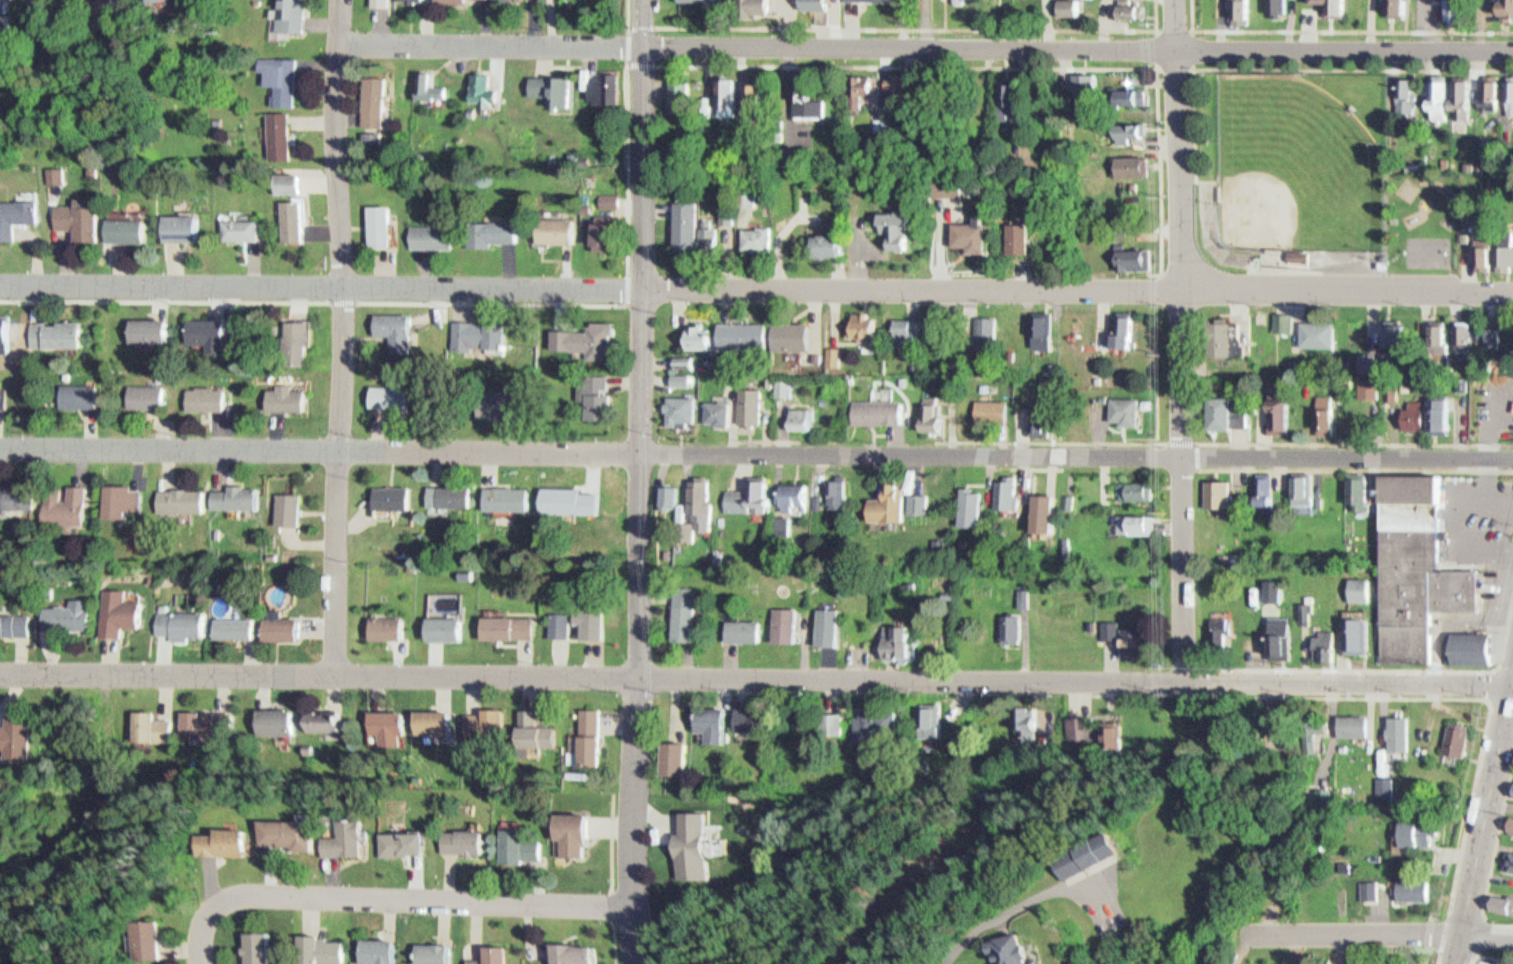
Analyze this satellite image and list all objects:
building: (145, 0)
building: (417, 0)
building: (508, 0)
building: (698, 0)
building: (875, 0)
building: (156, 1)
building: (377, 1)
building: (811, 1)
building: (965, 1)
building: (388, 2)
building: (748, 2)
building: (1274, 3)
building: (1063, 5)
building: (1126, 5)
building: (1342, 6)
building: (1400, 6)
building: (1074, 8)
building: (1509, 8)
building: (1460, 9)
building: (98, 10)
road: (626, 10)
building: (1232, 10)
building: (286, 14)
road: (922, 25)
road: (1340, 30)
building: (49, 44)
road: (927, 45)
road: (628, 60)
road: (1009, 66)
road: (1196, 68)
road: (1298, 69)
building: (278, 75)
building: (895, 79)
building: (1076, 82)
building: (425, 83)
building: (479, 84)
building: (553, 84)
building: (605, 85)
building: (855, 86)
building: (725, 87)
building: (677, 89)
building: (487, 90)
building: (1442, 90)
building: (1465, 90)
building: (1129, 91)
building: (1409, 92)
building: (1491, 92)
building: (1004, 93)
building: (1509, 93)
building: (805, 96)
building: (1012, 97)
building: (754, 99)
building: (374, 101)
building: (1127, 124)
building: (277, 131)
building: (1132, 132)
building: (1495, 149)
building: (1125, 161)
road: (626, 164)
park: (1297, 165)
building: (50, 172)
building: (283, 179)
park: (1326, 179)
building: (13, 210)
building: (721, 210)
building: (728, 214)
building: (73, 218)
building: (287, 218)
building: (682, 220)
building: (898, 221)
building: (379, 223)
building: (174, 224)
building: (120, 226)
building: (235, 226)
building: (557, 228)
building: (491, 229)
building: (607, 230)
building: (970, 231)
building: (431, 233)
building: (705, 233)
building: (753, 235)
building: (1010, 235)
building: (712, 238)
building: (1023, 239)
building: (828, 242)
building: (1486, 248)
park: (1429, 251)
building: (1506, 251)
building: (1128, 254)
building: (1301, 255)
road: (626, 282)
road: (756, 286)
road: (160, 294)
road: (336, 295)
road: (489, 296)
building: (1280, 317)
building: (1286, 322)
building: (857, 323)
building: (390, 324)
building: (931, 325)
building: (141, 326)
building: (903, 326)
building: (1035, 326)
building: (1116, 327)
building: (1460, 328)
building: (1314, 329)
building: (982, 330)
building: (1128, 330)
building: (1390, 330)
building: (1492, 330)
building: (48, 331)
building: (198, 331)
building: (479, 331)
building: (740, 331)
building: (1045, 331)
building: (788, 332)
building: (694, 333)
building: (4, 334)
road: (337, 334)
building: (593, 335)
building: (1217, 335)
building: (1434, 335)
building: (1469, 337)
building: (291, 338)
road: (1185, 339)
building: (1398, 340)
building: (830, 352)
building: (1365, 357)
building: (680, 358)
building: (688, 362)
building: (677, 374)
building: (724, 375)
building: (684, 380)
building: (777, 382)
building: (1367, 385)
building: (594, 391)
building: (71, 392)
building: (137, 392)
building: (386, 393)
building: (280, 394)
building: (199, 395)
building: (496, 399)
building: (744, 402)
building: (986, 406)
building: (1120, 406)
building: (677, 407)
building: (872, 407)
building: (712, 408)
building: (1322, 408)
building: (1220, 409)
building: (1427, 409)
building: (1276, 410)
building: (925, 411)
building: (1330, 414)
building: (1446, 414)
building: (794, 415)
building: (1034, 416)
building: (933, 417)
road: (1049, 441)
road: (1197, 441)
road: (1356, 443)
road: (756, 454)
road: (1355, 468)
road: (644, 482)
building: (1132, 485)
building: (1355, 486)
building: (830, 487)
building: (1299, 487)
building: (1213, 488)
building: (1002, 489)
building: (14, 491)
building: (1259, 491)
building: (389, 492)
building: (447, 492)
building: (742, 492)
building: (1268, 492)
building: (230, 493)
building: (505, 493)
building: (785, 493)
building: (837, 493)
building: (666, 494)
building: (111, 496)
building: (675, 496)
building: (175, 497)
building: (881, 498)
building: (912, 499)
building: (962, 500)
building: (921, 503)
building: (284, 505)
building: (60, 506)
building: (693, 506)
building: (974, 507)
building: (1039, 508)
building: (1051, 513)
building: (1130, 518)
building: (589, 519)
building: (777, 520)
building: (935, 537)
building: (1418, 569)
building: (464, 570)
building: (1356, 582)
building: (1270, 586)
building: (1021, 590)
building: (1303, 605)
building: (114, 608)
building: (679, 608)
building: (64, 610)
building: (688, 613)
building: (1308, 613)
building: (178, 618)
building: (557, 620)
building: (1219, 620)
building: (13, 621)
building: (279, 621)
building: (588, 621)
building: (779, 621)
building: (232, 622)
building: (385, 622)
building: (505, 622)
building: (1009, 622)
building: (442, 623)
building: (822, 623)
building: (565, 624)
building: (790, 625)
building: (738, 626)
building: (832, 626)
building: (1354, 629)
building: (1279, 630)
building: (1120, 632)
building: (1223, 634)
building: (893, 636)
building: (1322, 640)
building: (1471, 647)
road: (1386, 669)
road: (756, 675)
road: (1492, 685)
road: (1484, 696)
building: (746, 712)
building: (928, 713)
building: (323, 714)
building: (1025, 714)
building: (276, 715)
building: (209, 716)
building: (432, 717)
building: (709, 717)
building: (484, 718)
building: (833, 718)
building: (876, 719)
building: (1349, 719)
building: (757, 720)
building: (384, 721)
building: (153, 723)
building: (1091, 724)
building: (534, 726)
building: (1392, 727)
building: (13, 730)
building: (588, 733)
building: (1451, 734)
building: (598, 737)
building: (1314, 737)
building: (306, 742)
building: (677, 753)
building: (1379, 781)
building: (1387, 785)
building: (1318, 790)
building: (1512, 790)
road: (1500, 806)
building: (1509, 820)
road: (1482, 825)
building: (576, 827)
building: (1412, 828)
building: (284, 830)
building: (1512, 831)
building: (339, 835)
building: (463, 836)
building: (221, 839)
building: (395, 839)
building: (698, 840)
road: (1496, 840)
building: (520, 841)
building: (1507, 855)
building: (1085, 856)
building: (1339, 860)
building: (1363, 884)
building: (1409, 884)
building: (1500, 897)
road: (431, 899)
road: (205, 929)
road: (1486, 936)
road: (1350, 937)
building: (314, 942)
building: (251, 944)
building: (373, 948)
building: (1002, 948)
building: (432, 949)
building: (149, 950)
building: (573, 951)
building: (492, 953)
road: (1437, 953)
road: (1435, 958)
road: (1472, 958)

